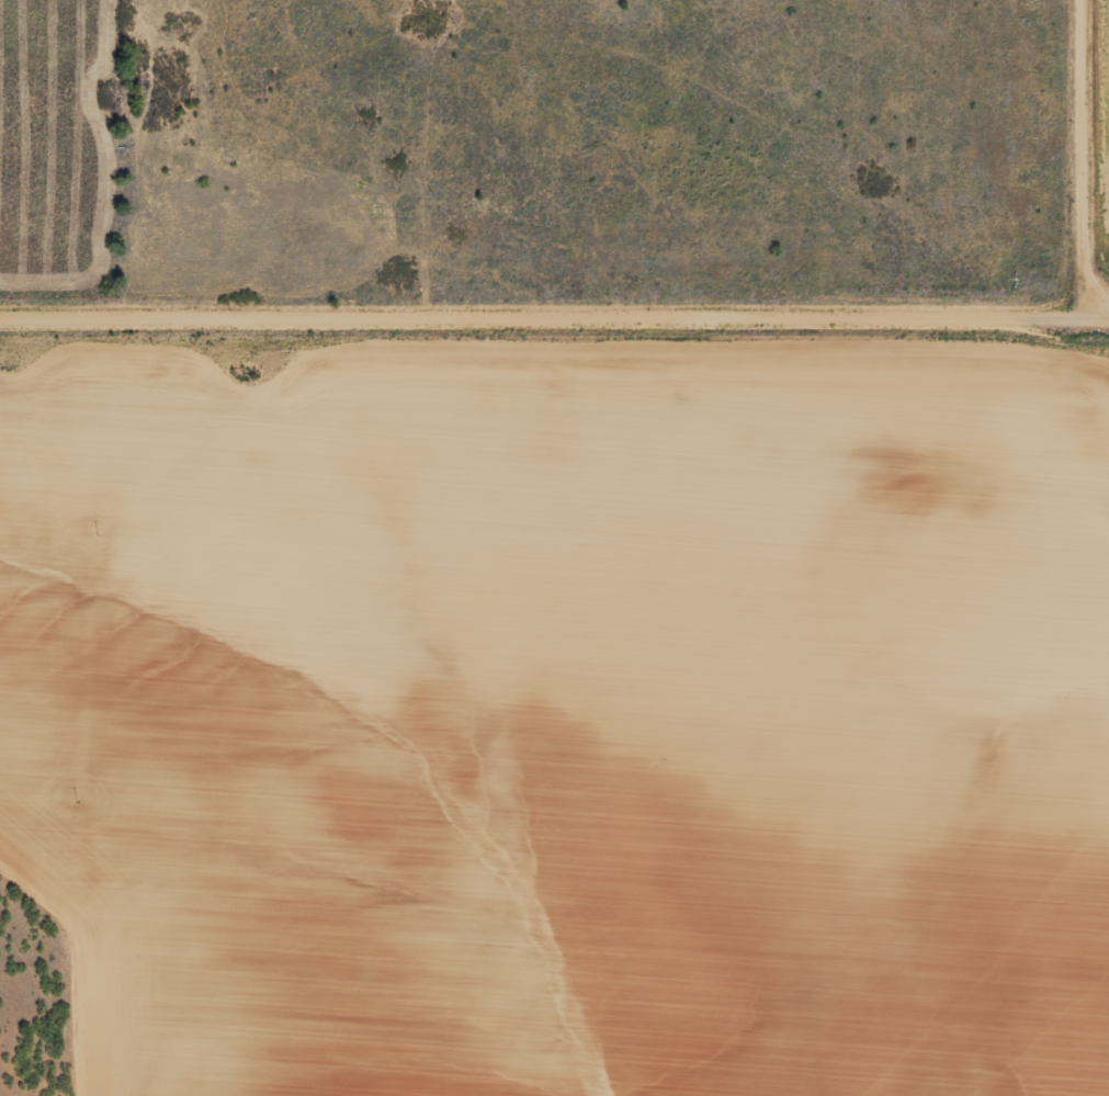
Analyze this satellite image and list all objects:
road: (1083, 158)
road: (543, 315)
road: (1098, 315)

